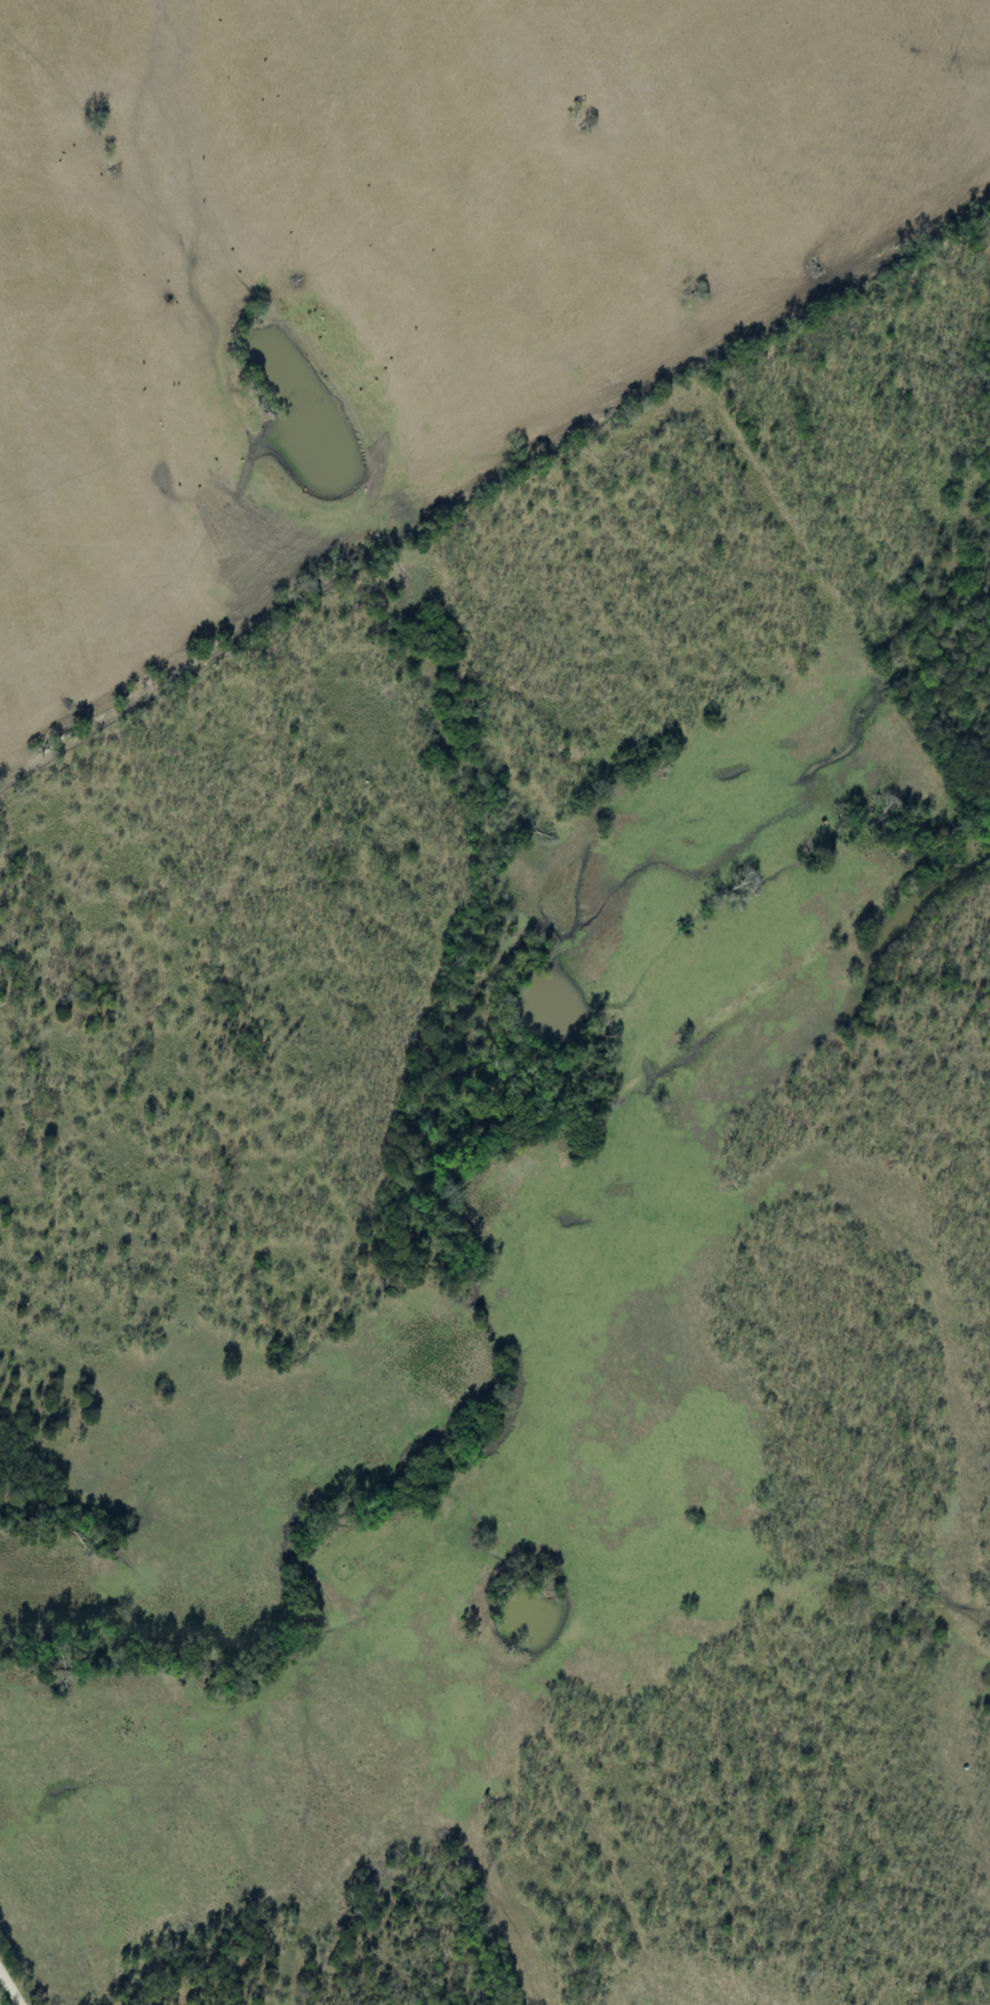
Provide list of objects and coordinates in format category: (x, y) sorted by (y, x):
road: (13, 1982)

